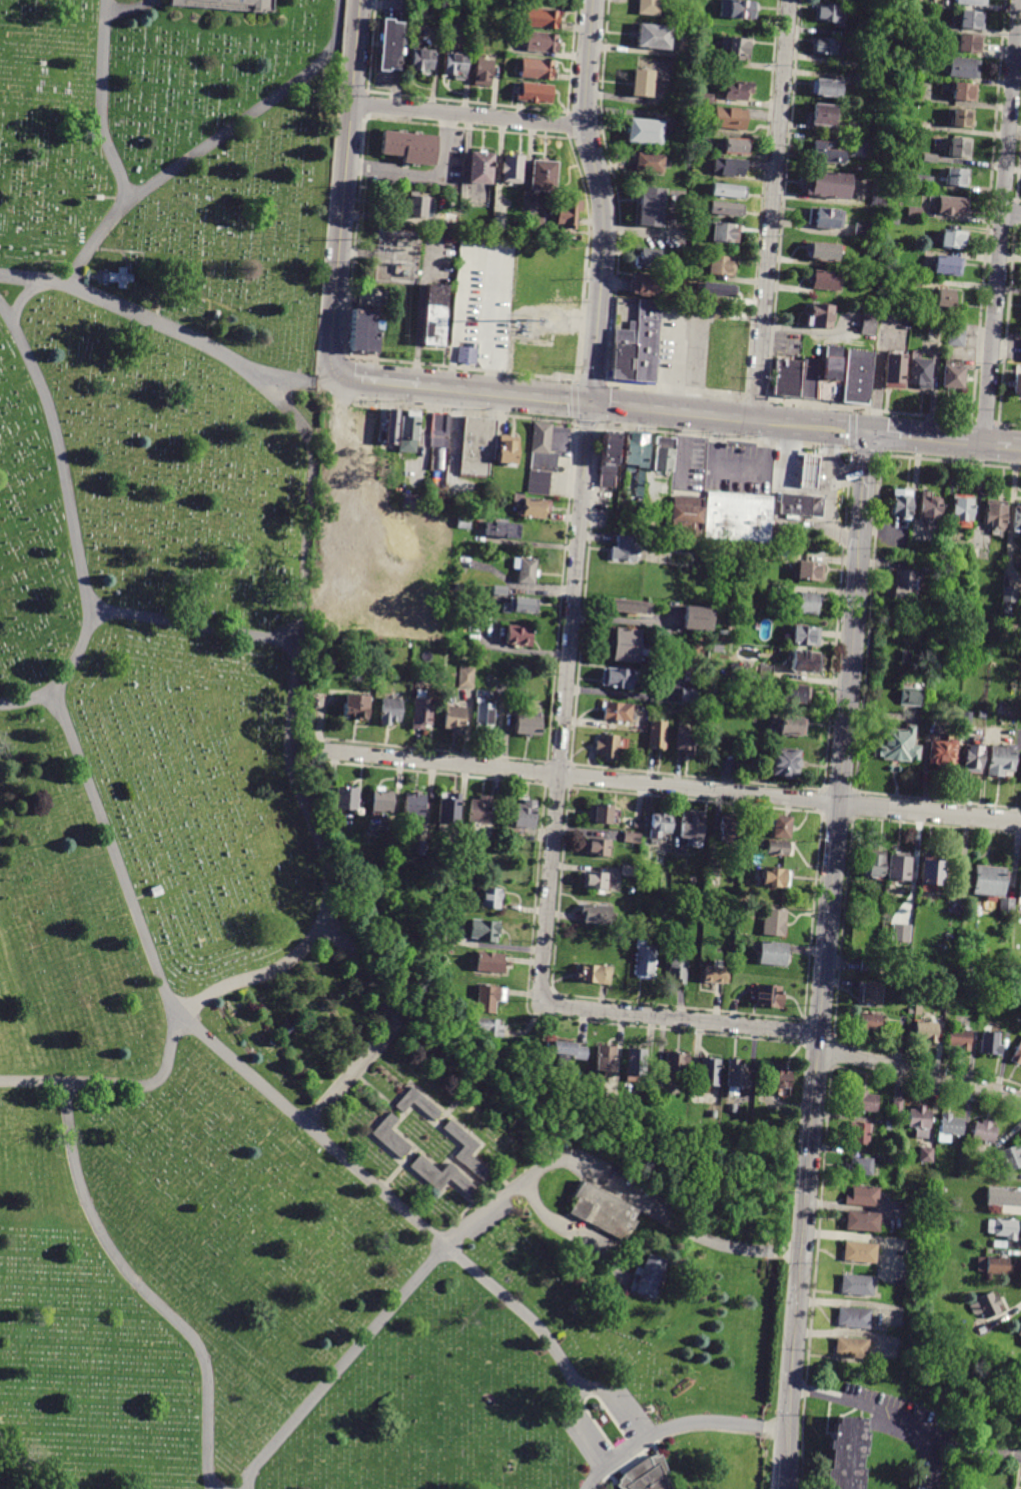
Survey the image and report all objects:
building: (918, 1)
building: (972, 2)
building: (227, 6)
building: (648, 7)
building: (739, 9)
building: (829, 13)
building: (892, 15)
building: (541, 18)
building: (972, 20)
road: (334, 28)
building: (891, 35)
building: (654, 37)
building: (541, 42)
building: (971, 43)
building: (390, 45)
building: (827, 47)
building: (480, 48)
building: (737, 48)
building: (706, 57)
building: (422, 61)
building: (456, 65)
building: (887, 65)
building: (964, 68)
building: (537, 69)
building: (911, 70)
building: (483, 72)
building: (932, 73)
building: (862, 82)
building: (642, 83)
building: (825, 88)
building: (737, 90)
building: (965, 92)
building: (535, 93)
building: (910, 94)
building: (704, 98)
road: (467, 114)
building: (822, 115)
building: (730, 119)
building: (963, 119)
building: (926, 126)
building: (854, 129)
building: (645, 132)
road: (226, 136)
building: (734, 147)
building: (410, 148)
building: (857, 148)
building: (960, 148)
building: (825, 154)
building: (929, 158)
building: (650, 163)
building: (728, 167)
building: (481, 169)
building: (513, 169)
road: (423, 176)
building: (543, 177)
building: (957, 178)
building: (923, 181)
road: (126, 182)
building: (827, 185)
road: (344, 189)
building: (728, 192)
building: (878, 193)
road: (603, 199)
building: (417, 205)
building: (651, 207)
building: (953, 207)
building: (724, 210)
road: (771, 210)
building: (914, 212)
building: (569, 213)
road: (1011, 214)
building: (825, 219)
building: (450, 221)
road: (1001, 221)
building: (500, 223)
building: (534, 225)
building: (862, 231)
building: (725, 233)
building: (700, 234)
building: (954, 240)
building: (822, 252)
power substation: (397, 256)
building: (651, 258)
building: (721, 266)
building: (948, 266)
building: (121, 278)
building: (827, 281)
building: (913, 282)
building: (646, 287)
building: (714, 291)
building: (375, 297)
building: (945, 300)
road: (420, 309)
building: (435, 316)
building: (820, 317)
building: (867, 321)
building: (363, 333)
building: (956, 334)
building: (647, 342)
building: (625, 348)
building: (1020, 354)
building: (467, 355)
building: (724, 359)
building: (894, 372)
road: (879, 373)
building: (831, 374)
building: (920, 375)
building: (857, 377)
building: (952, 378)
building: (788, 379)
road: (382, 380)
building: (809, 380)
road: (301, 383)
building: (1016, 384)
road: (506, 392)
road: (342, 395)
traffic signals: (590, 401)
road: (671, 410)
building: (368, 421)
road: (810, 426)
building: (392, 427)
building: (440, 430)
building: (408, 431)
traffic signals: (869, 433)
building: (541, 437)
road: (937, 439)
building: (478, 445)
road: (1014, 446)
building: (507, 449)
building: (638, 449)
building: (663, 454)
building: (608, 458)
building: (543, 462)
building: (809, 470)
gas station: (809, 470)
road: (864, 477)
building: (539, 483)
building: (639, 483)
building: (412, 502)
building: (901, 502)
building: (802, 505)
building: (532, 506)
building: (929, 507)
building: (963, 510)
building: (995, 514)
building: (687, 515)
building: (737, 517)
building: (1017, 517)
building: (463, 523)
road: (76, 524)
building: (501, 530)
building: (777, 530)
building: (624, 549)
building: (768, 553)
building: (676, 558)
building: (928, 569)
building: (526, 570)
building: (811, 571)
building: (906, 585)
building: (765, 587)
building: (499, 590)
building: (808, 602)
building: (1008, 604)
building: (520, 605)
building: (629, 606)
building: (697, 619)
road: (190, 622)
building: (806, 634)
building: (518, 635)
building: (346, 642)
building: (627, 644)
building: (906, 657)
building: (804, 660)
building: (745, 666)
building: (765, 671)
building: (466, 677)
building: (691, 677)
building: (616, 678)
building: (794, 693)
building: (908, 695)
building: (688, 696)
building: (355, 706)
road: (292, 709)
building: (390, 709)
building: (421, 712)
building: (485, 712)
building: (617, 712)
building: (454, 718)
building: (529, 723)
building: (792, 724)
building: (657, 734)
building: (686, 738)
building: (896, 743)
building: (608, 746)
building: (941, 754)
building: (972, 759)
building: (1001, 759)
building: (784, 761)
building: (729, 768)
road: (669, 785)
building: (346, 798)
building: (381, 800)
building: (414, 804)
building: (449, 808)
building: (480, 810)
building: (600, 813)
building: (524, 814)
building: (637, 825)
building: (660, 825)
building: (780, 826)
building: (692, 827)
building: (728, 830)
building: (632, 838)
building: (597, 847)
building: (422, 848)
building: (778, 848)
building: (873, 863)
building: (900, 866)
building: (630, 871)
building: (931, 874)
building: (775, 877)
building: (714, 879)
building: (597, 881)
building: (988, 881)
park: (273, 888)
building: (156, 891)
building: (492, 898)
building: (1006, 905)
building: (596, 913)
building: (775, 922)
building: (484, 930)
building: (904, 932)
building: (432, 937)
road: (544, 945)
building: (773, 953)
building: (644, 960)
building: (489, 962)
building: (868, 965)
building: (678, 969)
building: (594, 973)
building: (716, 976)
building: (952, 981)
building: (872, 992)
building: (769, 996)
building: (489, 999)
road: (820, 1005)
building: (1008, 1005)
building: (918, 1011)
building: (869, 1022)
building: (951, 1023)
building: (489, 1026)
road: (389, 1029)
building: (926, 1031)
building: (959, 1039)
building: (990, 1044)
building: (567, 1051)
building: (1017, 1055)
building: (606, 1060)
building: (636, 1061)
building: (675, 1065)
building: (710, 1072)
building: (780, 1076)
building: (736, 1077)
road: (258, 1083)
building: (865, 1101)
building: (423, 1105)
building: (897, 1107)
building: (733, 1108)
building: (919, 1120)
building: (894, 1125)
building: (951, 1126)
building: (860, 1133)
building: (983, 1135)
building: (395, 1137)
building: (1002, 1139)
building: (472, 1150)
building: (926, 1155)
building: (1012, 1157)
building: (892, 1159)
building: (860, 1165)
building: (446, 1176)
building: (940, 1188)
building: (863, 1195)
building: (1003, 1197)
building: (598, 1210)
road: (483, 1216)
building: (862, 1220)
road: (559, 1224)
building: (1003, 1228)
building: (1000, 1244)
building: (859, 1251)
building: (994, 1266)
building: (645, 1271)
building: (857, 1284)
road: (145, 1287)
building: (987, 1305)
building: (853, 1317)
building: (983, 1329)
building: (1020, 1332)
building: (1020, 1345)
building: (851, 1347)
road: (621, 1403)
road: (887, 1414)
road: (676, 1423)
road: (582, 1432)
road: (974, 1447)
building: (848, 1454)
road: (20, 1467)
building: (642, 1475)

